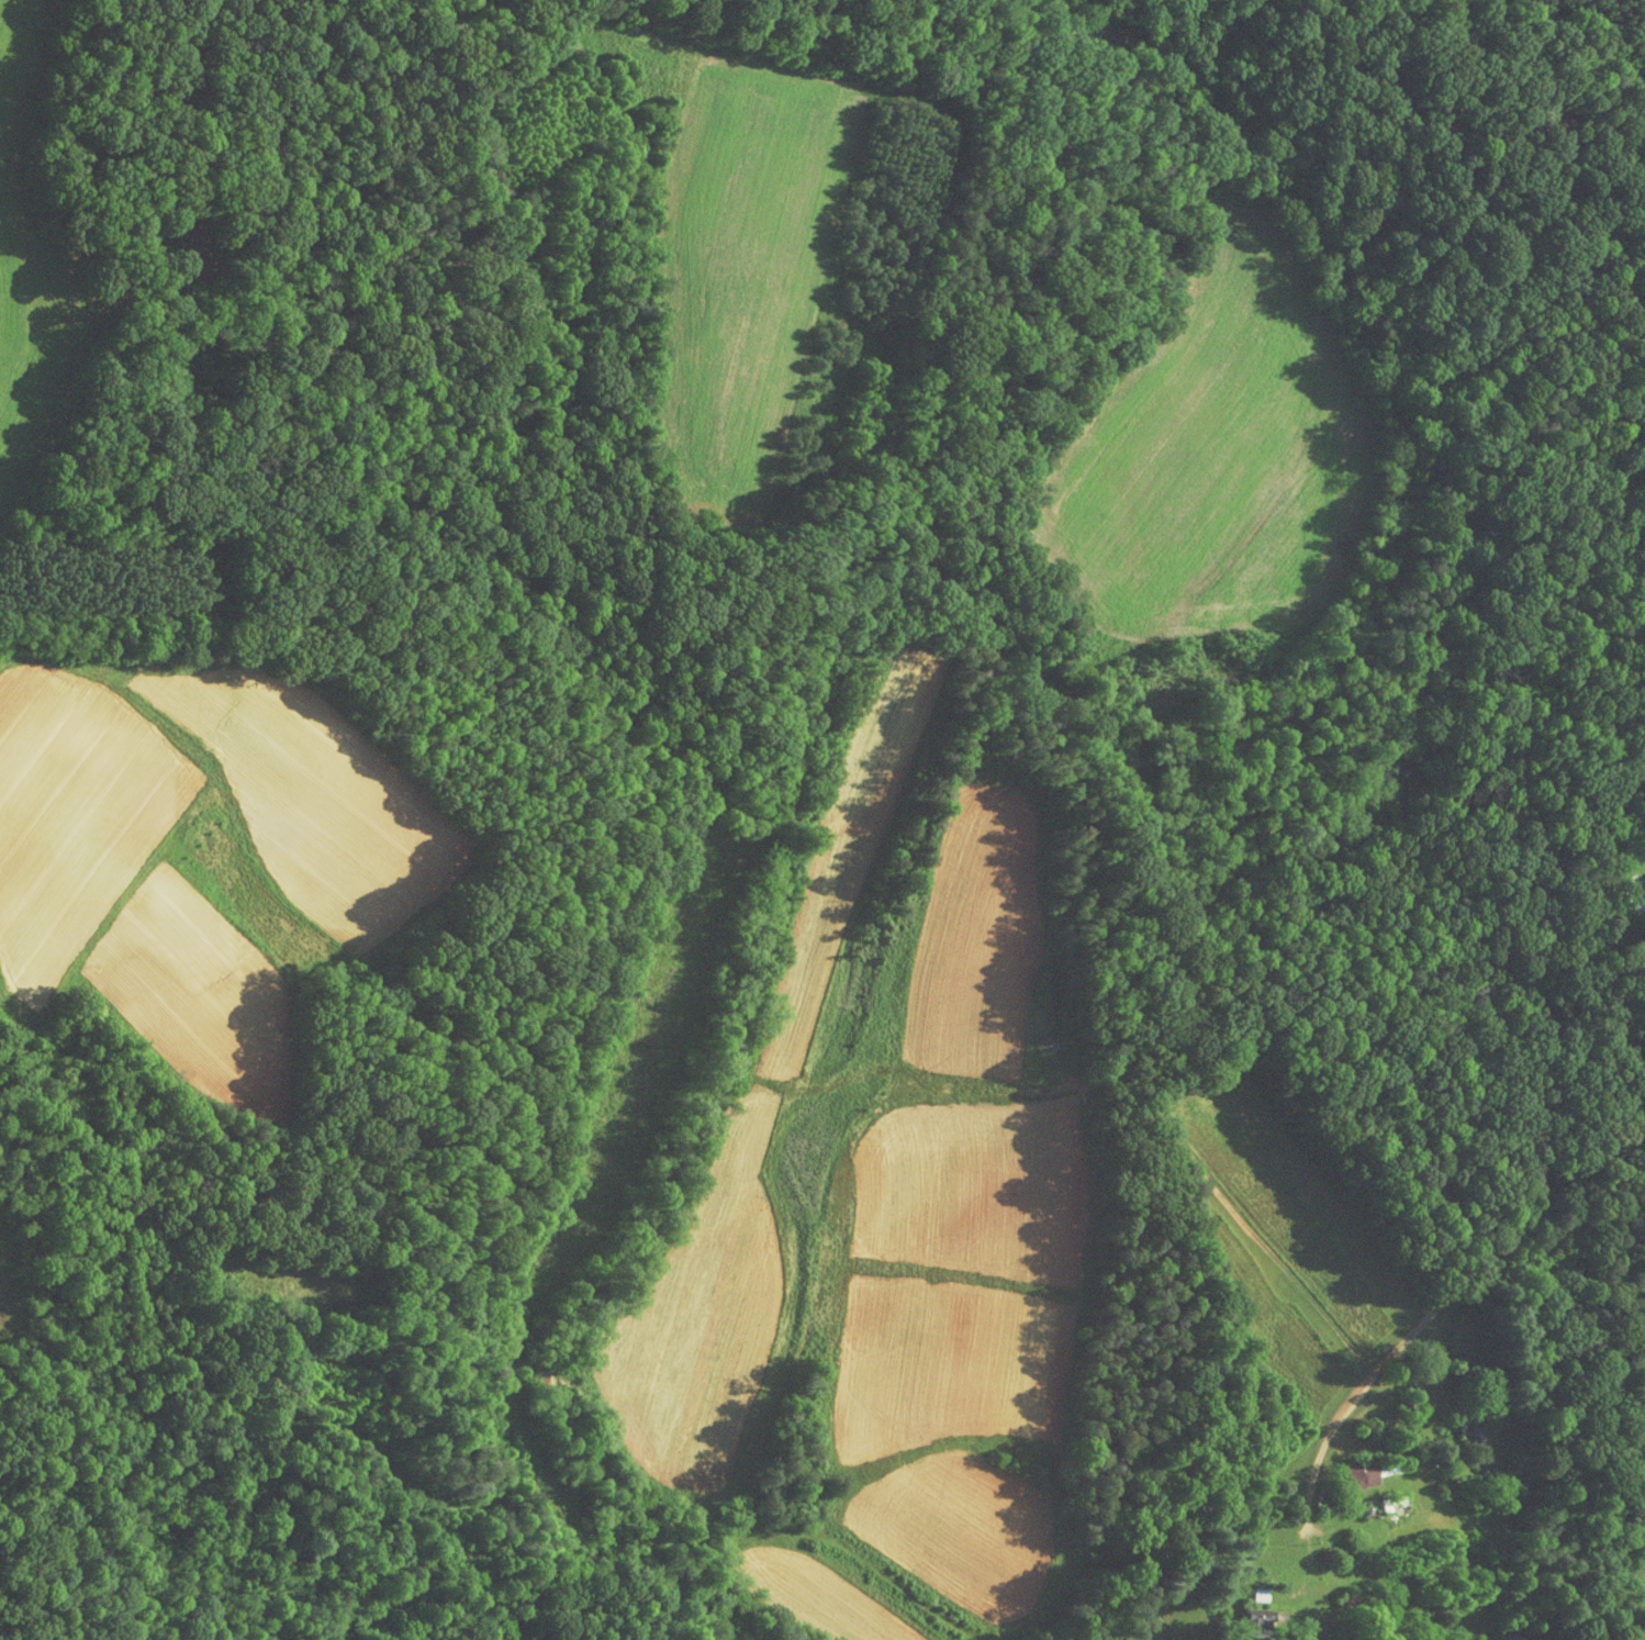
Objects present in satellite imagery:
road: (145, 91)
building: (183, 236)
building: (1644, 868)
building: (1644, 880)
road: (1627, 1036)
road: (1420, 1321)
building: (1350, 1465)
building: (1247, 1588)
building: (1245, 1616)

